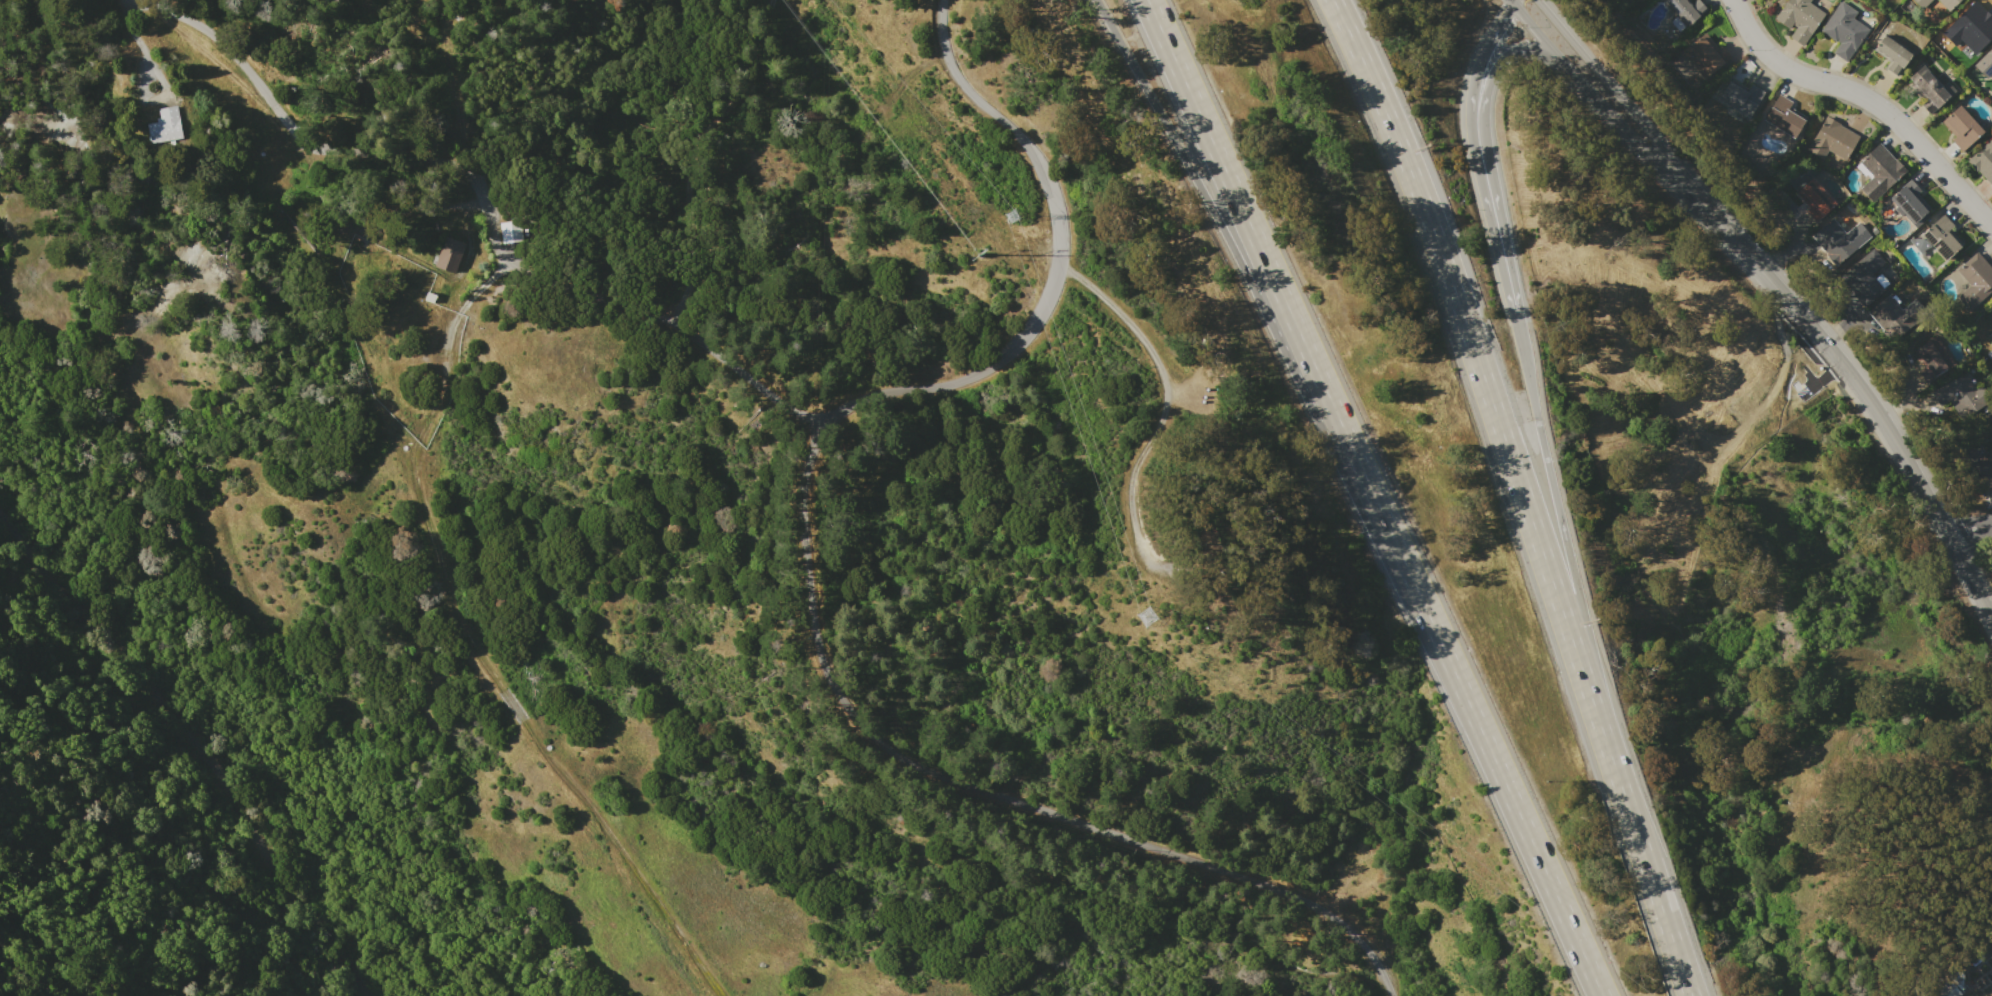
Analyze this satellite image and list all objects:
building: (1922, 3)
building: (1947, 3)
building: (1686, 10)
building: (1799, 18)
building: (1972, 24)
building: (1843, 29)
road: (1489, 52)
building: (1891, 54)
building: (1704, 55)
road: (1508, 60)
building: (1985, 63)
building: (1745, 69)
building: (1930, 86)
building: (1740, 97)
road: (1869, 98)
building: (1784, 117)
building: (165, 125)
building: (1961, 127)
building: (1832, 139)
road: (304, 145)
road: (692, 152)
building: (1983, 159)
road: (1187, 167)
building: (1880, 172)
building: (1814, 199)
building: (1908, 207)
road: (1493, 209)
power tower: (1010, 216)
building: (509, 232)
building: (1941, 238)
building: (1839, 240)
power tower: (981, 253)
building: (448, 254)
building: (1864, 276)
building: (1974, 279)
road: (1273, 281)
road: (1779, 295)
road: (620, 301)
building: (1991, 310)
building: (1896, 316)
building: (1989, 338)
building: (1933, 357)
road: (1476, 360)
building: (1966, 395)
road: (1338, 449)
road: (1144, 465)
building: (1985, 468)
road: (1561, 518)
road: (1971, 530)
road: (808, 581)
power tower: (1146, 616)
road: (473, 647)
road: (193, 748)
road: (1501, 779)
road: (1645, 862)
building: (1945, 989)

